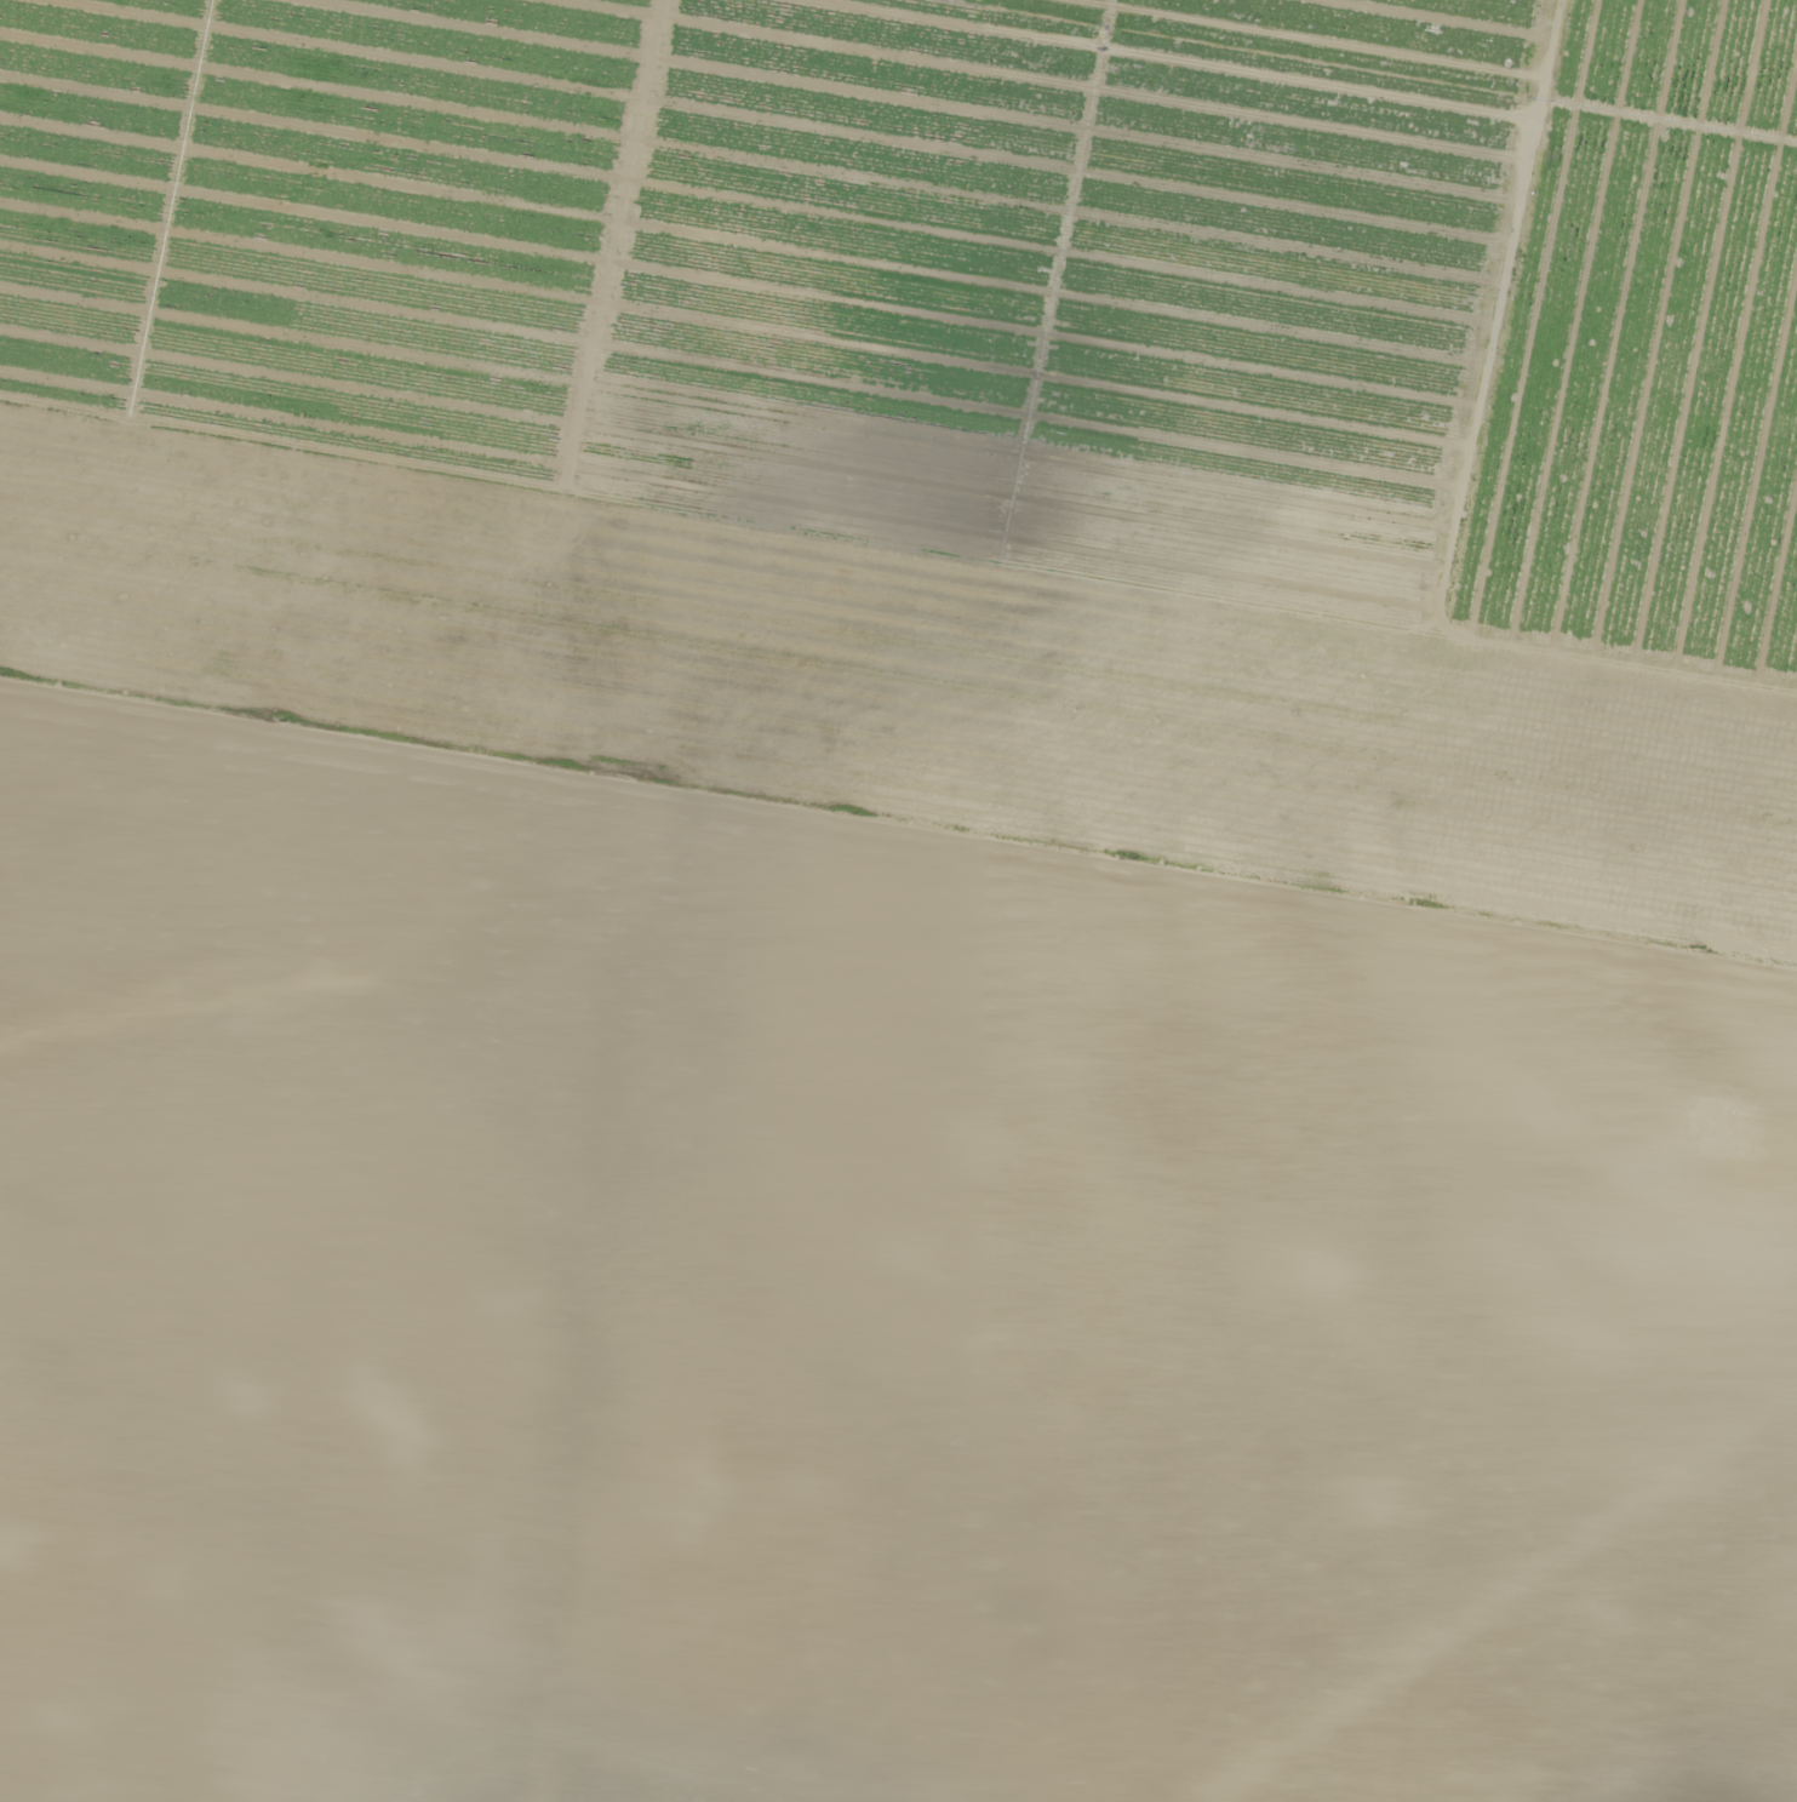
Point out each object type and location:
road: (898, 813)

